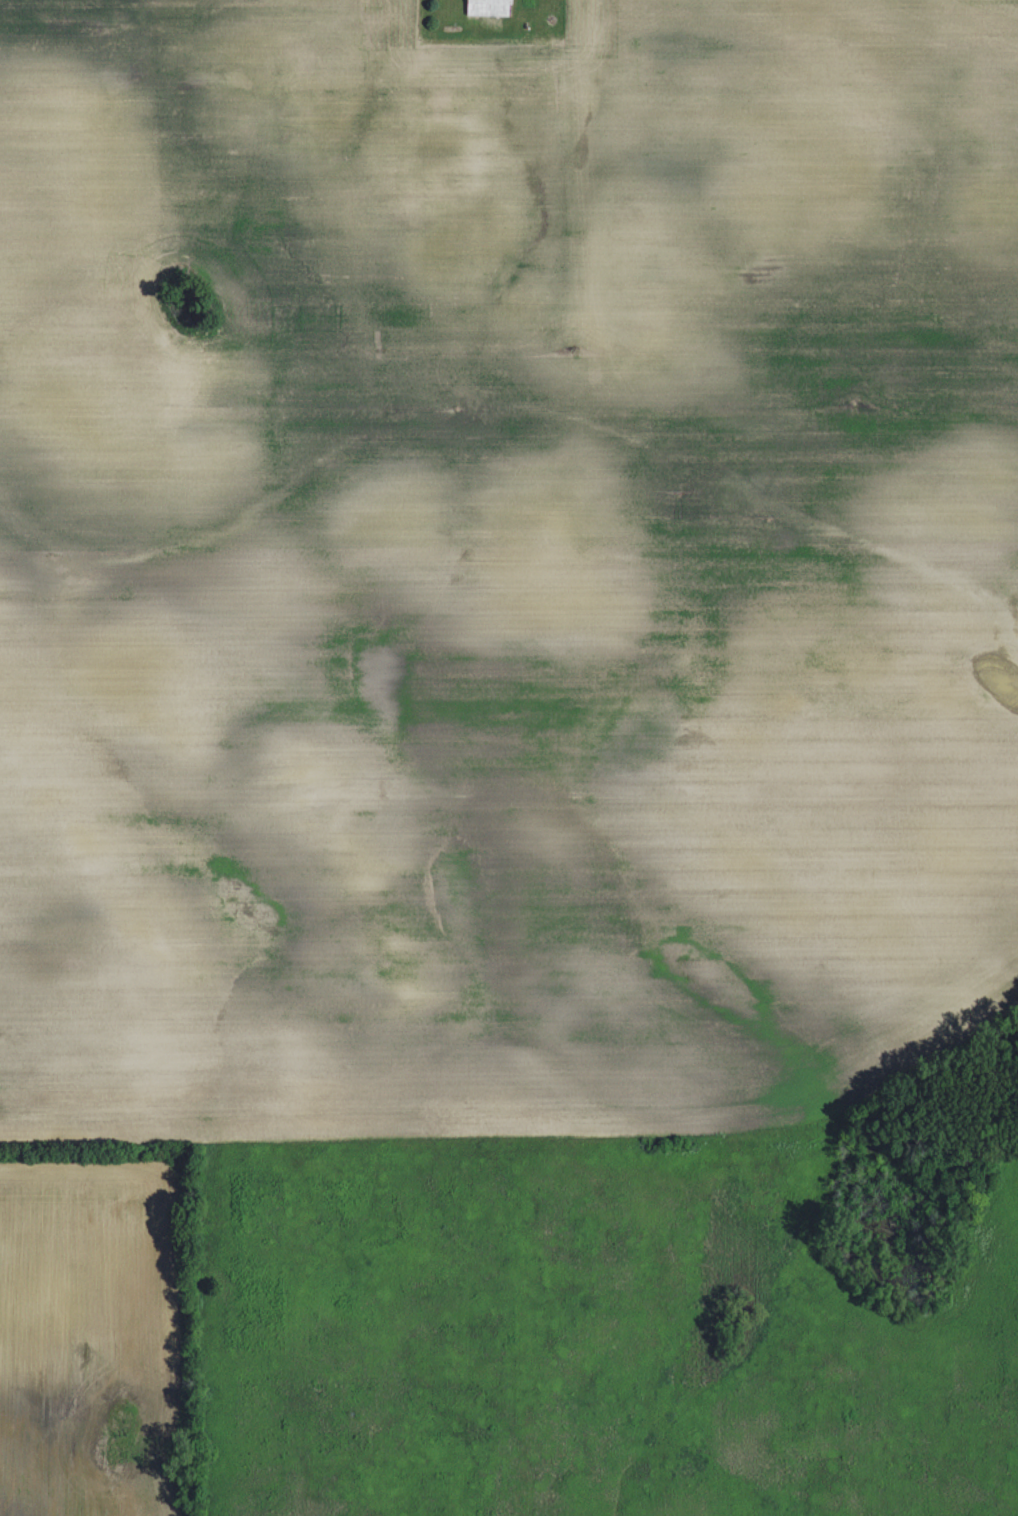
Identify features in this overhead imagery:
building: (489, 7)

